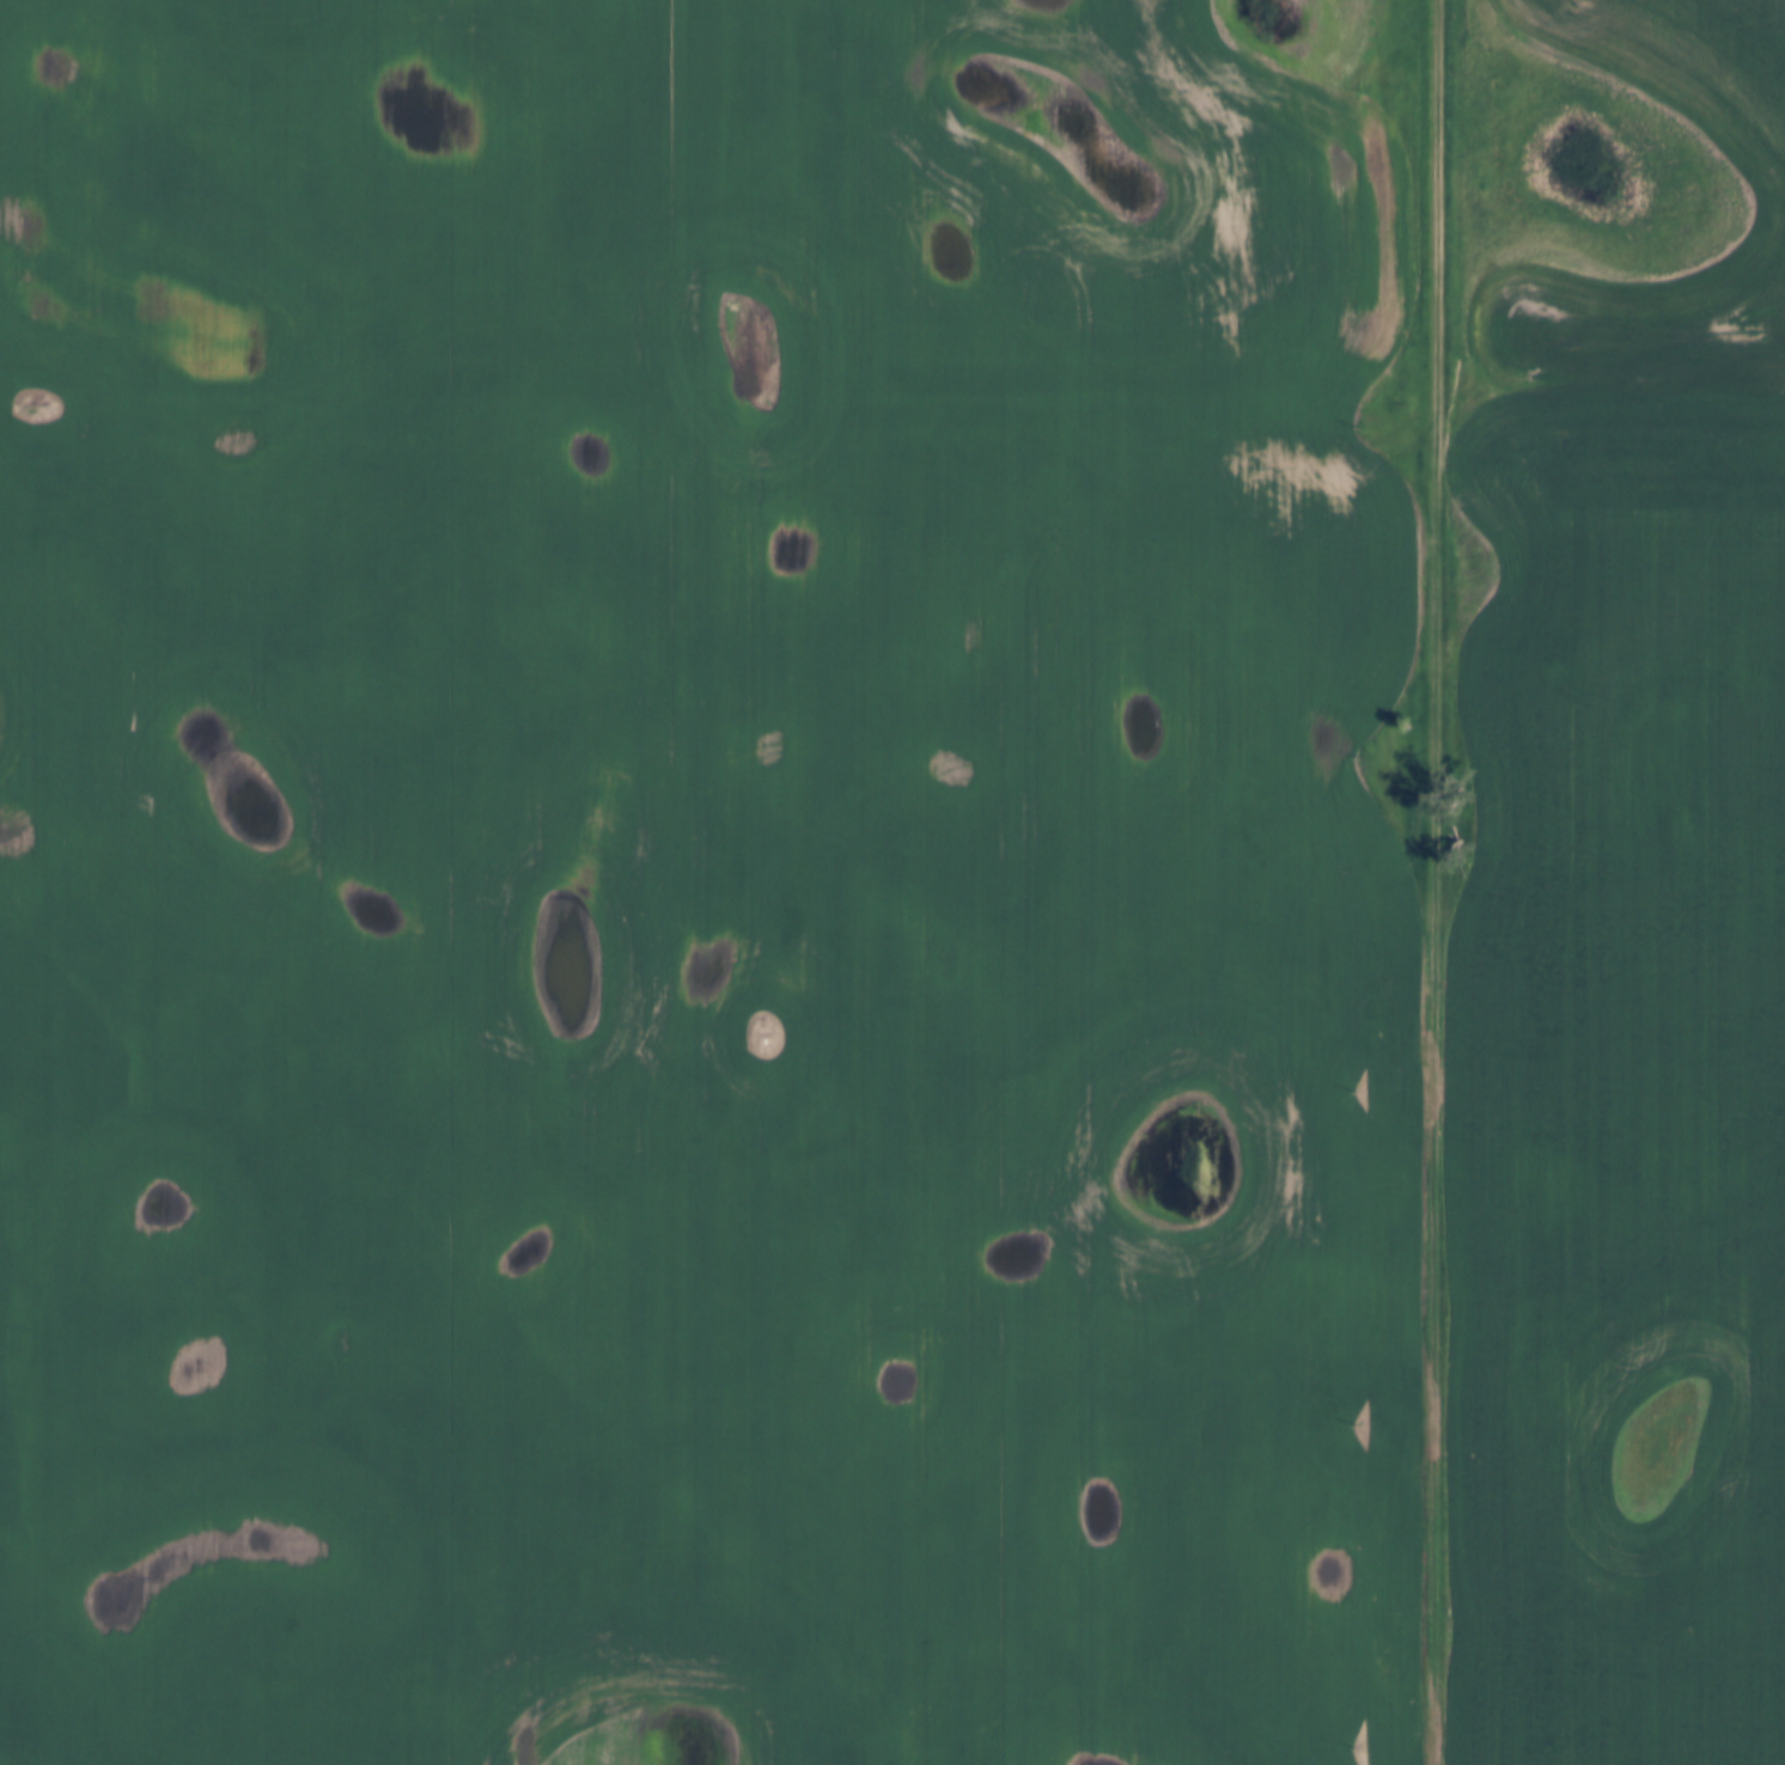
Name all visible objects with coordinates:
road: (1439, 881)

